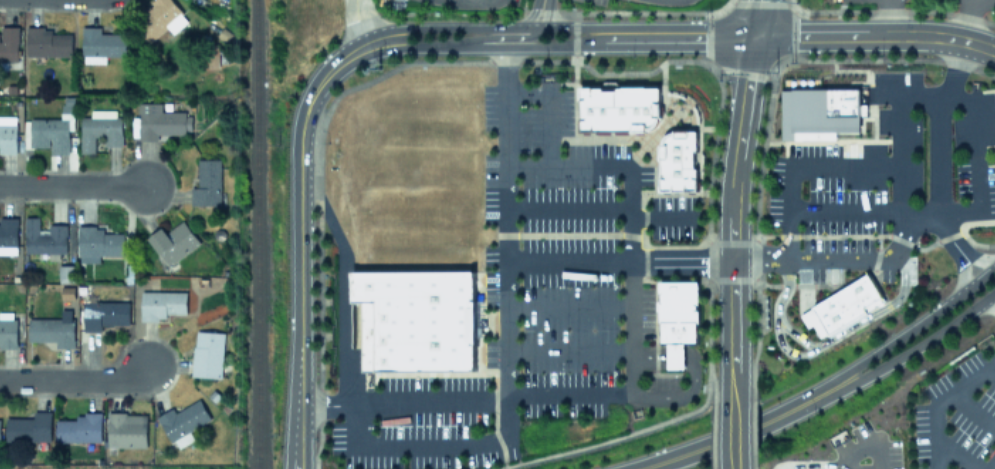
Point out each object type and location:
parking lot: (514, 0)
parking lot: (596, 1)
parking lot: (671, 1)
parking lot: (390, 2)
road: (539, 13)
road: (888, 17)
building: (160, 18)
road: (759, 18)
road: (967, 20)
road: (361, 23)
road: (449, 28)
road: (563, 28)
road: (859, 35)
road: (572, 37)
road: (683, 37)
traffic signals: (756, 38)
road: (503, 39)
building: (46, 42)
road: (978, 44)
building: (101, 45)
road: (499, 46)
road: (973, 97)
road: (549, 105)
building: (621, 107)
building: (819, 109)
building: (160, 121)
road: (938, 124)
building: (53, 129)
building: (99, 129)
building: (7, 134)
building: (678, 159)
road: (616, 165)
road: (821, 168)
parking lot: (883, 171)
building: (207, 183)
road: (69, 186)
road: (568, 209)
road: (852, 212)
road: (733, 215)
road: (663, 216)
road: (299, 232)
railway: (254, 234)
building: (8, 235)
building: (44, 237)
building: (98, 242)
building: (174, 242)
road: (955, 248)
road: (847, 259)
road: (568, 263)
building: (66, 273)
road: (987, 274)
road: (631, 279)
road: (342, 288)
road: (989, 295)
road: (993, 295)
parking lot: (533, 297)
building: (161, 304)
building: (843, 304)
road: (569, 306)
building: (104, 314)
building: (416, 317)
building: (677, 317)
building: (7, 329)
building: (53, 329)
road: (910, 330)
road: (507, 335)
road: (797, 336)
road: (823, 343)
road: (916, 345)
road: (569, 349)
building: (207, 354)
road: (649, 357)
road: (675, 357)
road: (73, 379)
road: (682, 396)
road: (466, 401)
road: (937, 402)
road: (973, 409)
road: (784, 411)
parking lot: (956, 416)
building: (182, 422)
building: (29, 428)
building: (79, 428)
building: (126, 430)
road: (733, 431)
road: (866, 443)
parking lot: (864, 448)
road: (682, 453)
road: (957, 455)
road: (811, 463)
road: (992, 465)

